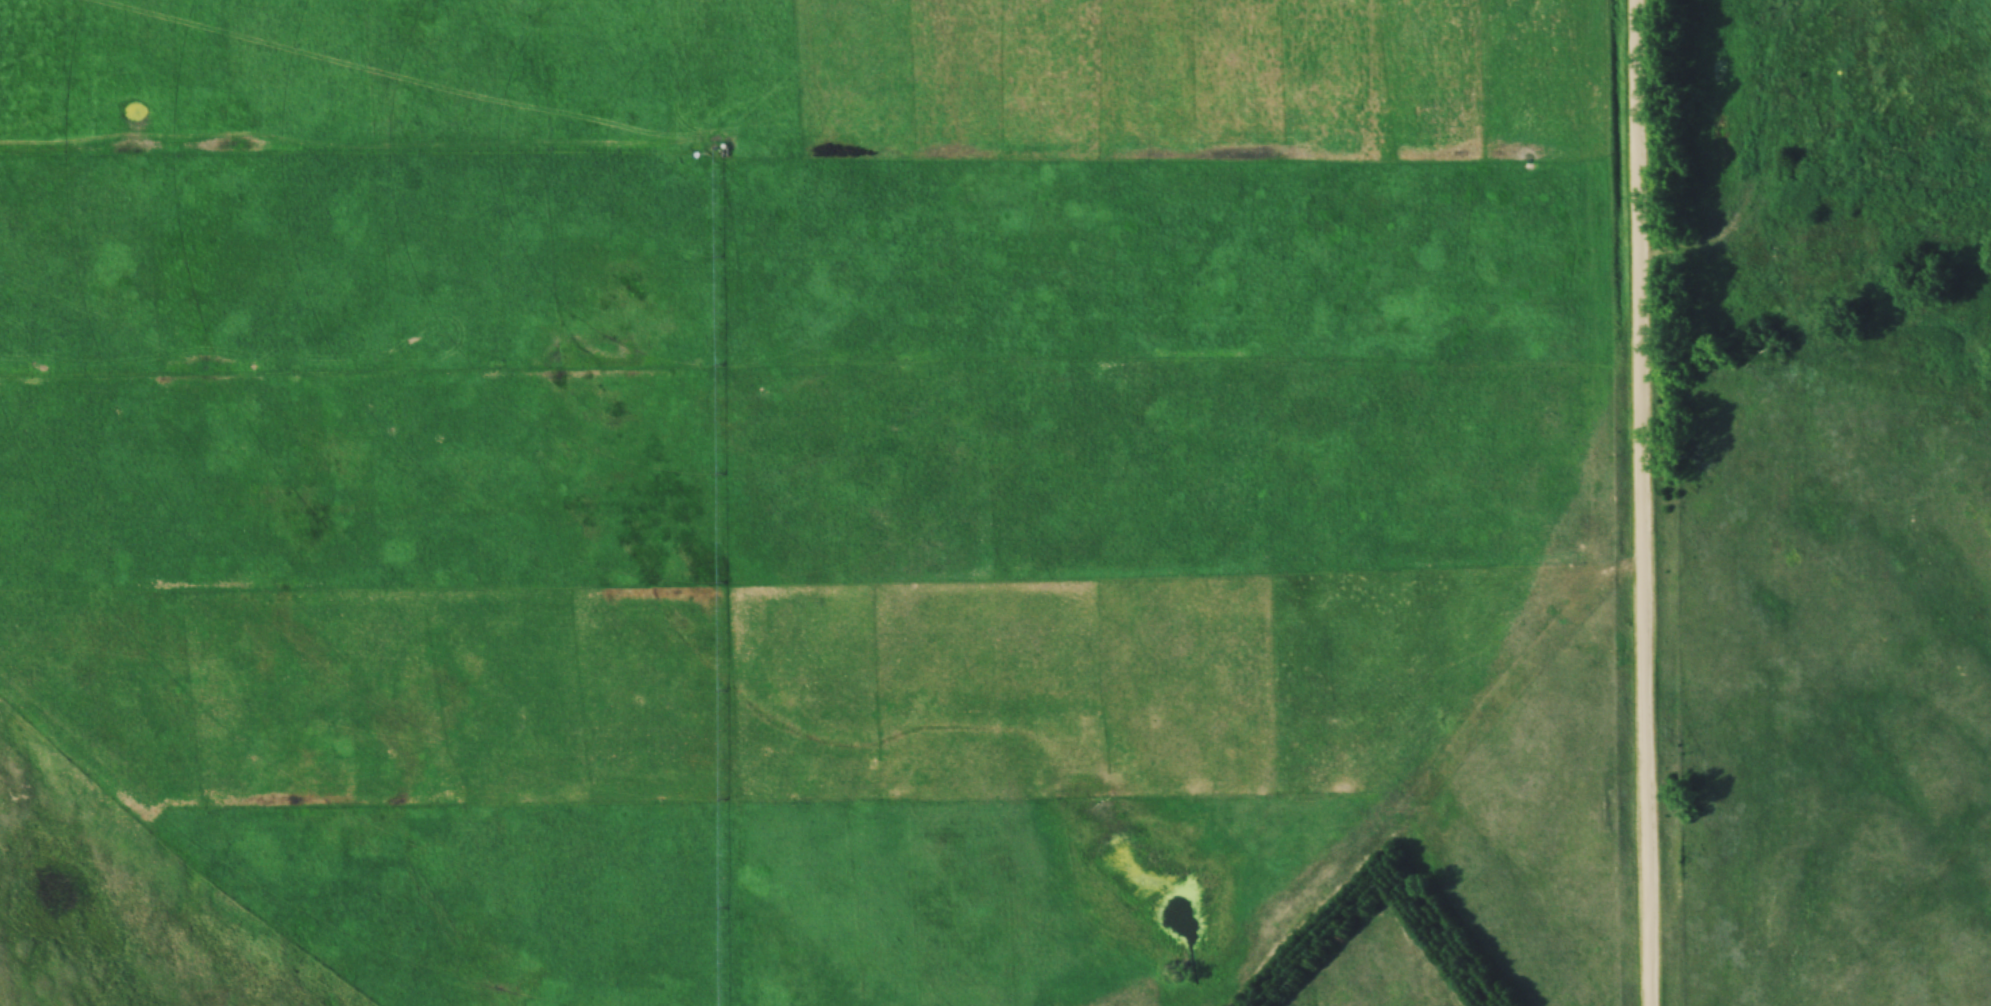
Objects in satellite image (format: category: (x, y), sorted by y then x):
road: (1641, 502)

